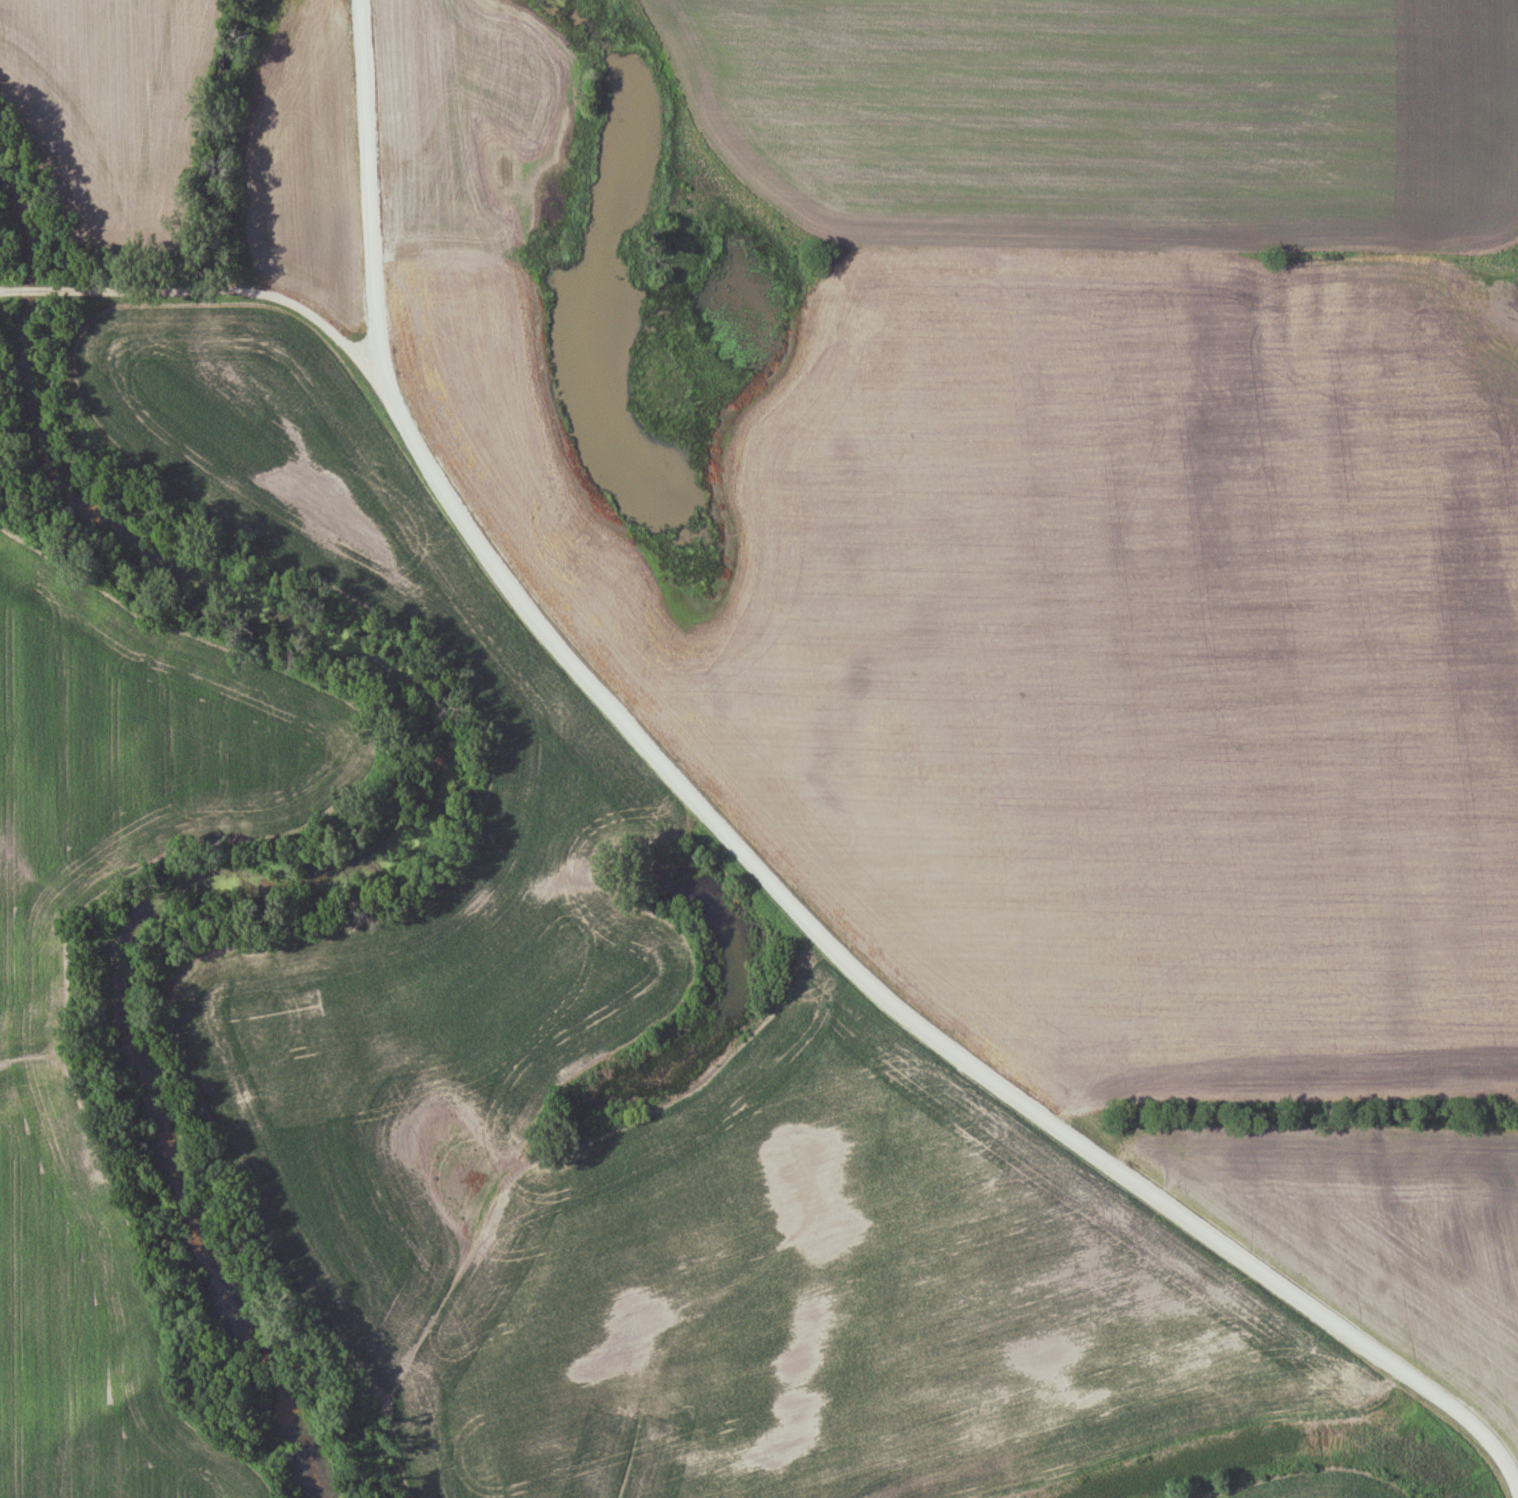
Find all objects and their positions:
road: (205, 289)
road: (754, 862)

